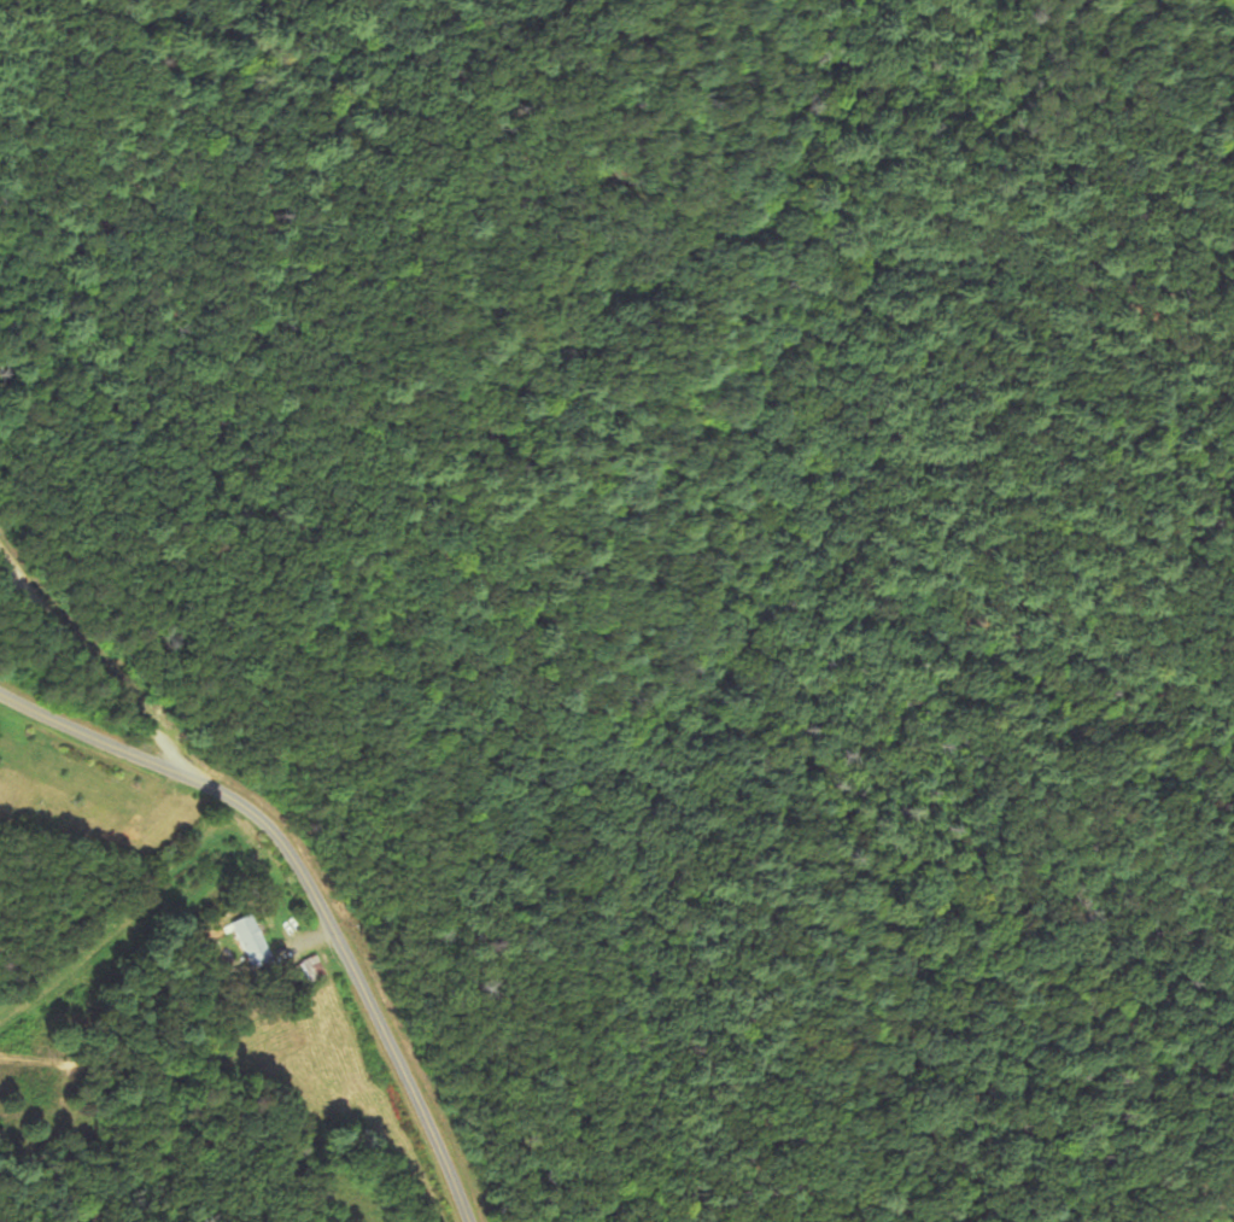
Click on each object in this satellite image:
road: (95, 660)
road: (310, 885)
building: (253, 940)

